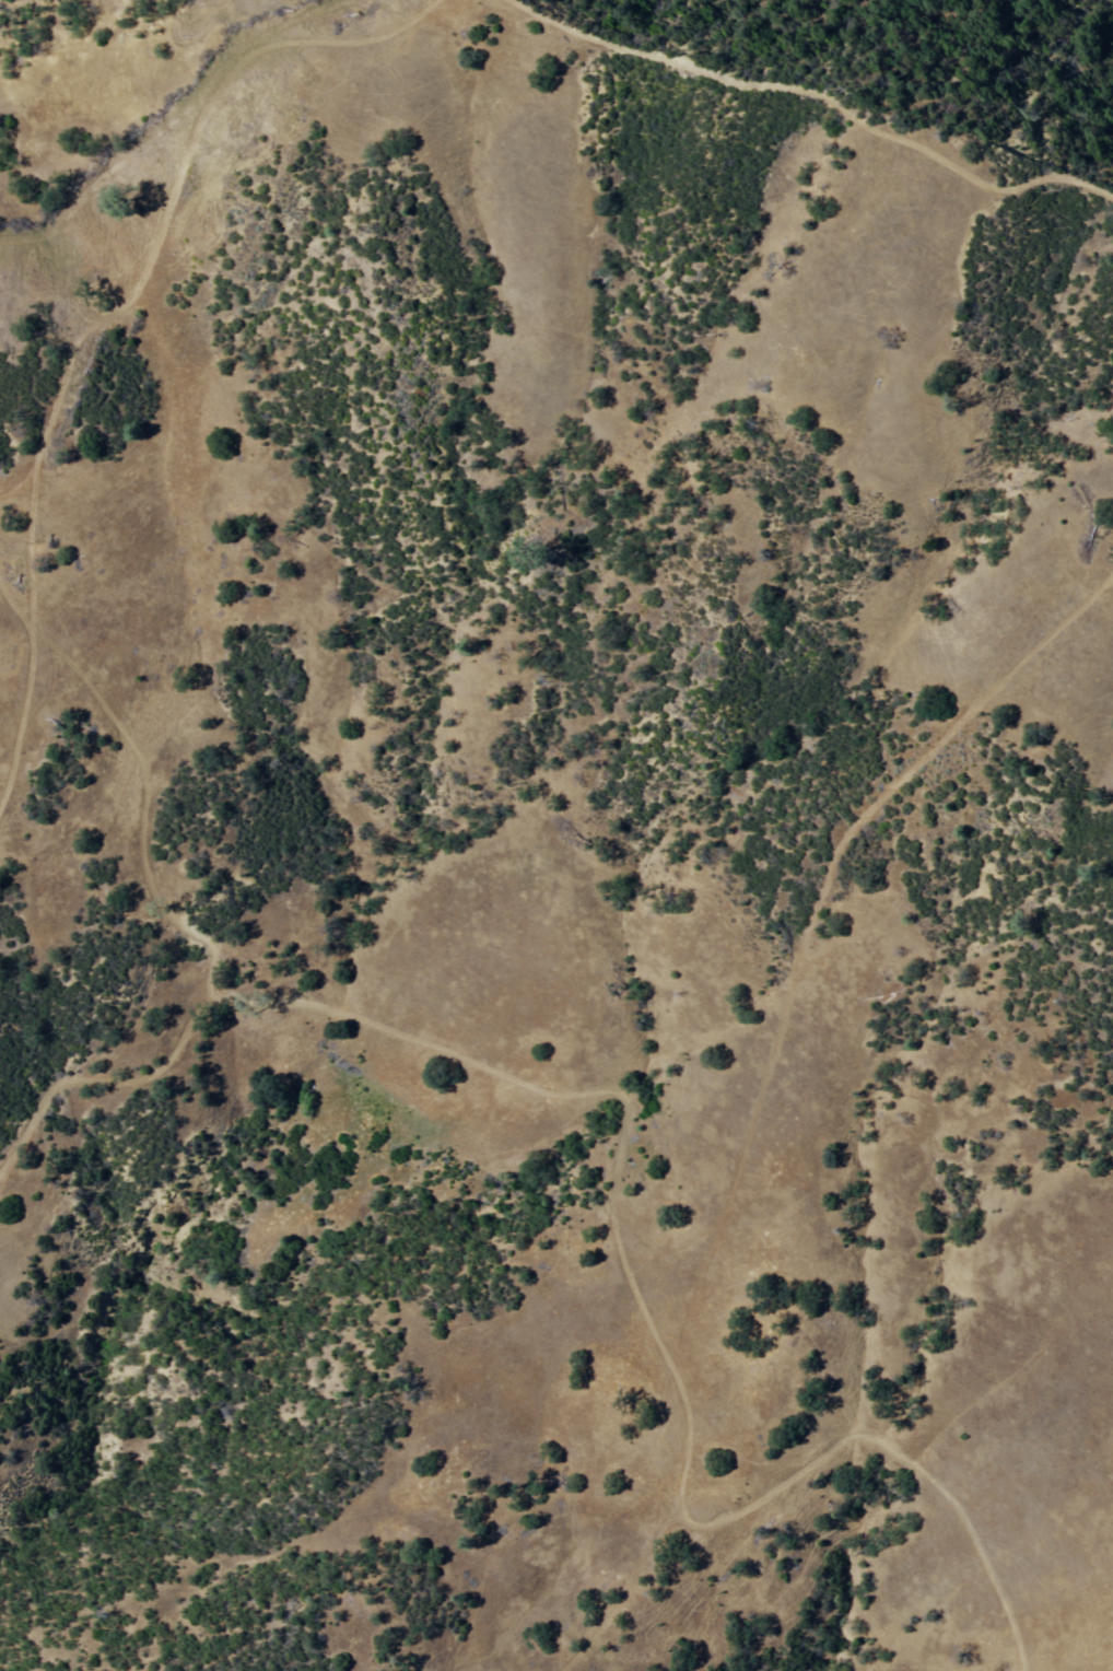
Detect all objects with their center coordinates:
road: (607, 1212)

